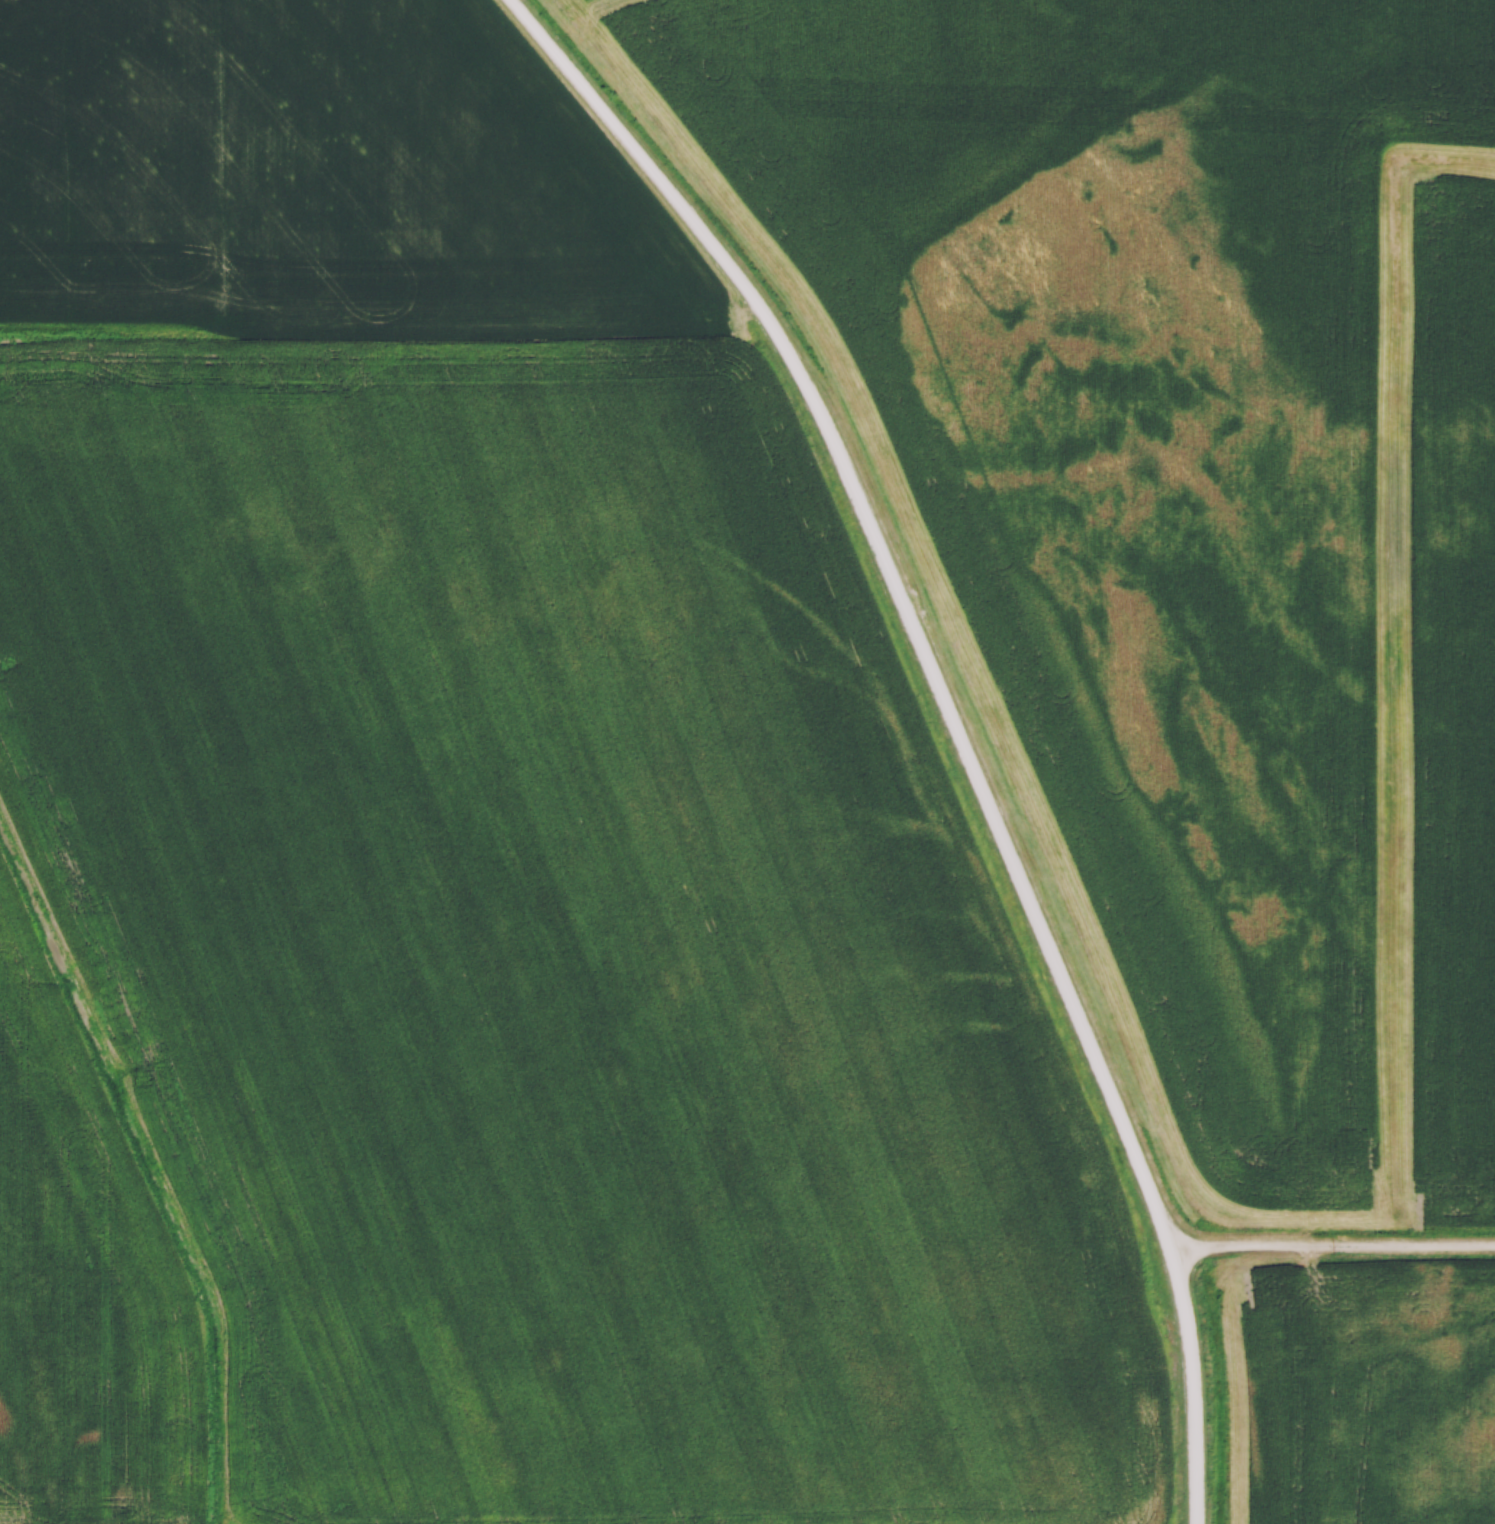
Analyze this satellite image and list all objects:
road: (952, 718)
road: (1333, 1246)

